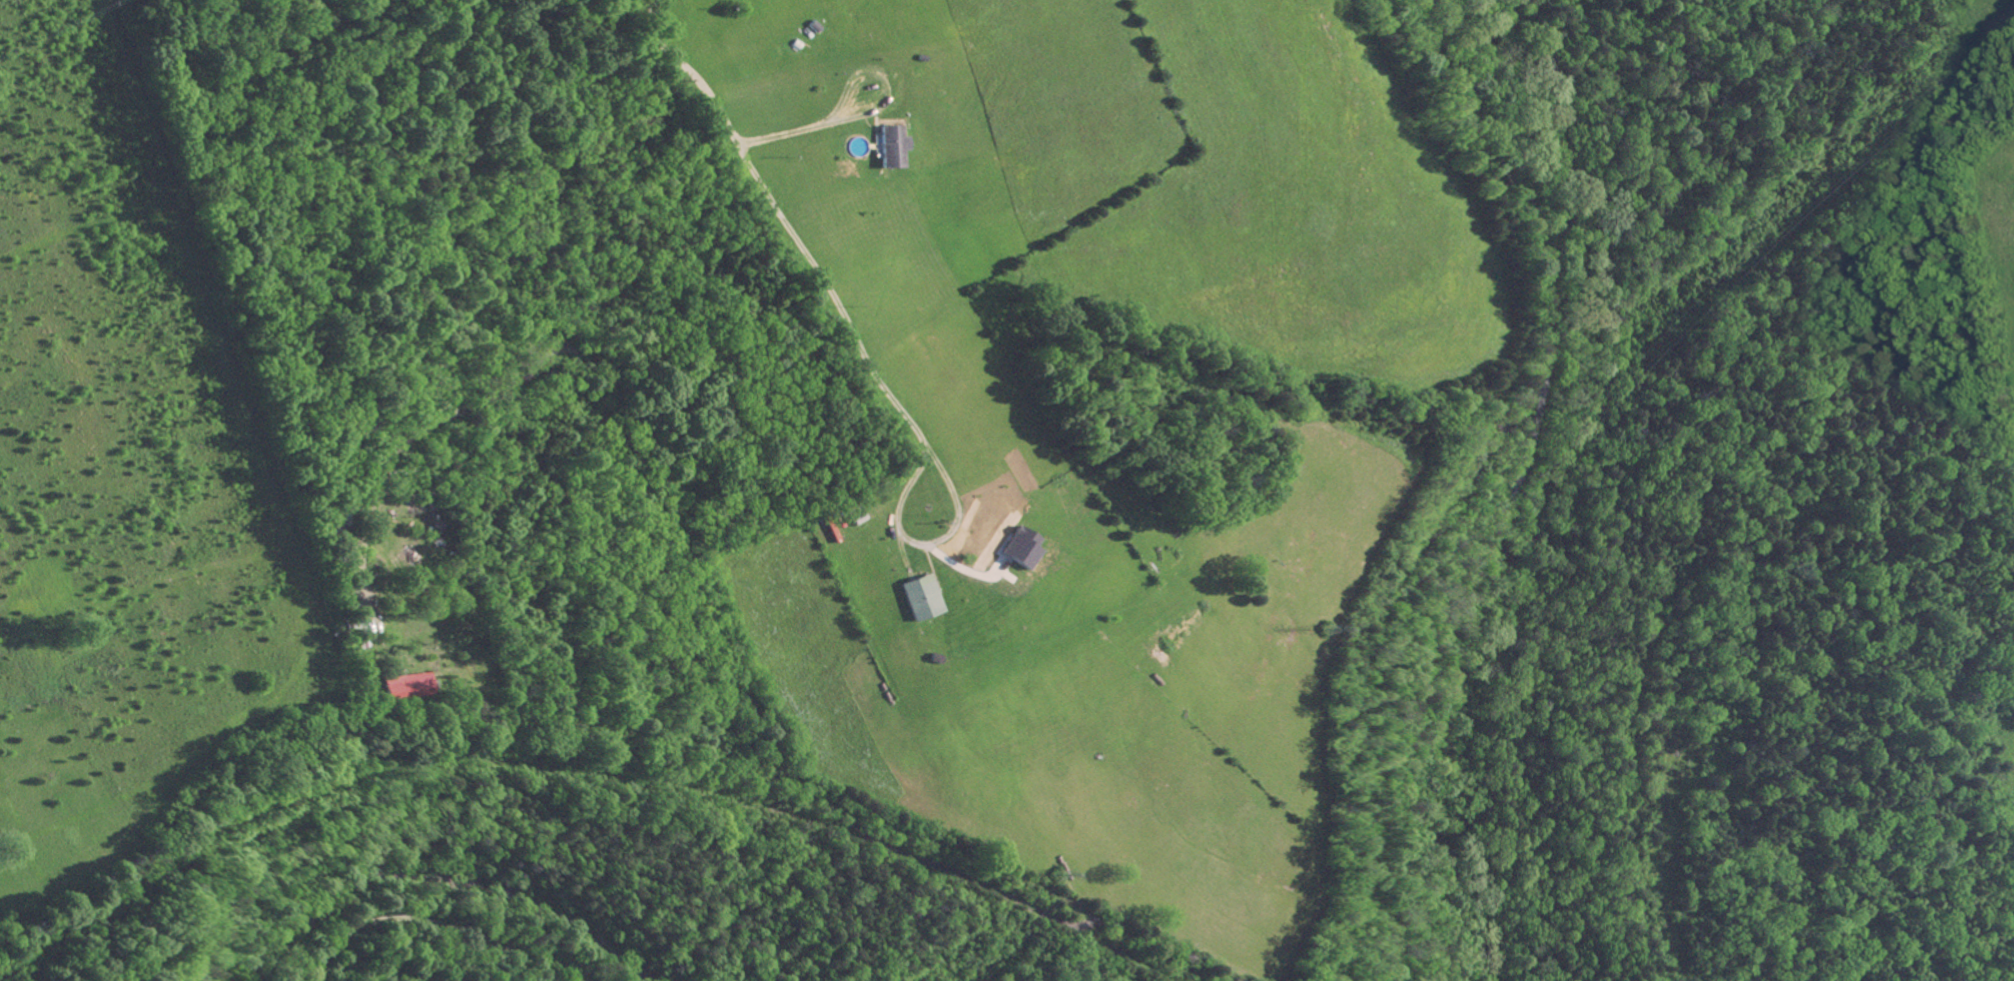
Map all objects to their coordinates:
road: (865, 110)
building: (891, 146)
road: (785, 223)
road: (1521, 482)
road: (927, 540)
building: (1020, 546)
building: (922, 595)
railway: (1165, 973)

